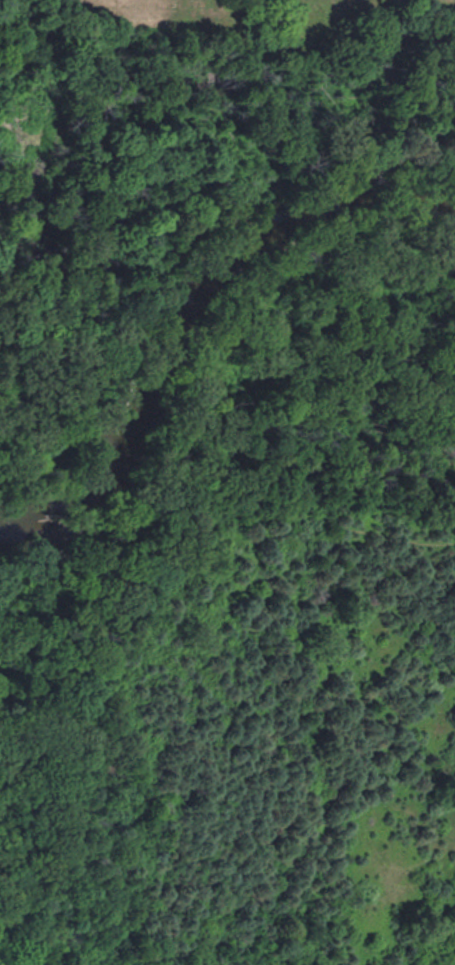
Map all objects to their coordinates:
road: (214, 225)
river: (180, 297)
road: (224, 471)
park: (227, 482)

